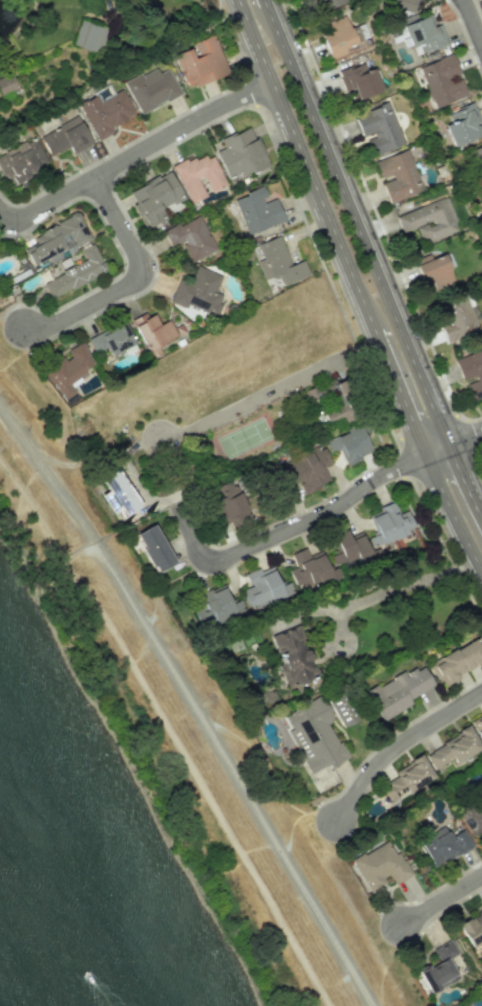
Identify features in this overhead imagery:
road: (264, 2)
building: (330, 3)
building: (400, 5)
road: (473, 19)
building: (421, 34)
building: (85, 35)
building: (336, 37)
building: (199, 62)
building: (442, 80)
building: (359, 81)
building: (7, 84)
building: (151, 89)
building: (103, 92)
building: (105, 112)
building: (463, 124)
building: (378, 129)
building: (65, 137)
road: (135, 153)
building: (240, 153)
building: (478, 156)
building: (20, 161)
road: (306, 164)
building: (398, 175)
building: (198, 176)
building: (154, 198)
building: (257, 210)
building: (428, 220)
road: (355, 225)
building: (190, 237)
building: (57, 238)
building: (278, 262)
building: (433, 271)
building: (75, 273)
road: (131, 281)
building: (198, 291)
building: (458, 319)
building: (152, 330)
building: (111, 339)
building: (69, 369)
building: (471, 371)
road: (399, 392)
road: (269, 394)
building: (338, 404)
road: (463, 438)
building: (348, 444)
road: (436, 451)
building: (307, 469)
road: (462, 483)
building: (120, 492)
building: (229, 504)
road: (452, 515)
building: (388, 524)
road: (291, 528)
building: (154, 548)
building: (349, 548)
building: (307, 568)
road: (410, 584)
building: (263, 588)
building: (215, 605)
building: (292, 656)
building: (456, 662)
building: (397, 692)
road: (191, 703)
building: (342, 709)
building: (478, 727)
building: (314, 735)
road: (397, 745)
building: (452, 748)
building: (407, 778)
building: (472, 819)
building: (444, 845)
building: (380, 866)
road: (440, 900)
building: (472, 929)
building: (439, 967)
river: (6, 995)

